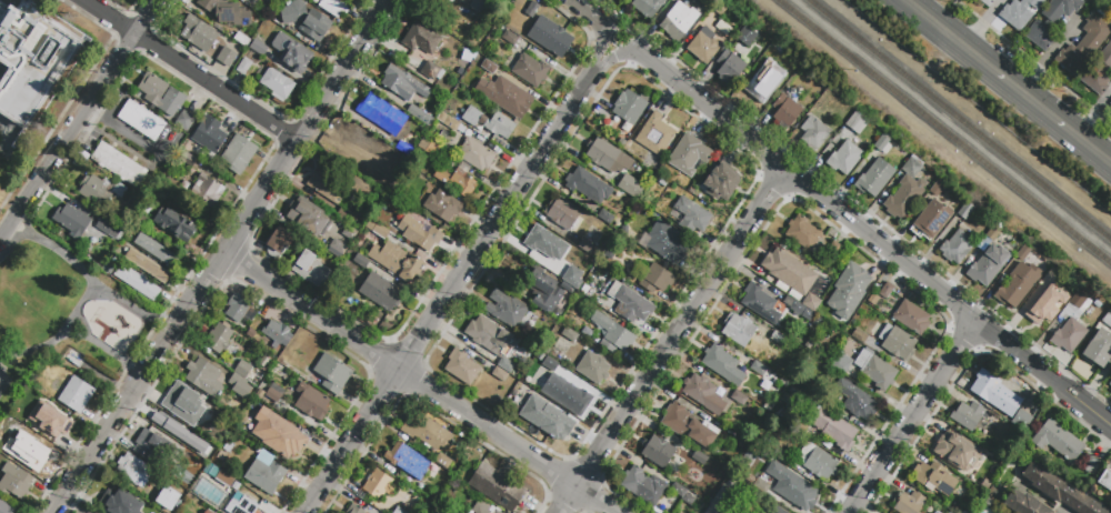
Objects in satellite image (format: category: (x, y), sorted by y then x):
building: (454, 0)
building: (438, 2)
road: (911, 2)
building: (988, 2)
building: (479, 6)
building: (648, 7)
building: (333, 8)
building: (261, 9)
building: (532, 9)
road: (589, 11)
building: (227, 12)
building: (1019, 12)
building: (306, 20)
building: (1051, 21)
building: (674, 26)
building: (723, 27)
road: (627, 30)
building: (199, 37)
building: (747, 37)
building: (510, 38)
building: (553, 38)
building: (241, 39)
building: (420, 39)
road: (602, 43)
road: (614, 43)
building: (1085, 43)
building: (703, 44)
building: (258, 49)
building: (293, 57)
road: (619, 57)
building: (228, 60)
road: (1033, 61)
building: (30, 62)
building: (730, 67)
building: (489, 68)
road: (190, 69)
building: (246, 69)
building: (432, 71)
building: (530, 71)
building: (1099, 72)
building: (237, 80)
road: (1007, 81)
building: (402, 84)
building: (279, 87)
building: (755, 89)
building: (162, 95)
building: (506, 97)
building: (1110, 103)
building: (628, 108)
road: (711, 109)
building: (784, 111)
building: (376, 112)
building: (471, 115)
road: (79, 117)
building: (423, 117)
railway: (960, 119)
building: (186, 120)
building: (141, 121)
building: (449, 122)
building: (857, 123)
building: (500, 125)
road: (121, 129)
building: (462, 129)
railway: (945, 131)
building: (468, 132)
building: (813, 133)
building: (655, 134)
building: (209, 137)
building: (361, 143)
building: (451, 144)
building: (883, 144)
building: (429, 149)
building: (494, 149)
building: (239, 154)
building: (476, 155)
building: (608, 155)
building: (689, 155)
building: (844, 157)
building: (187, 160)
building: (118, 165)
building: (911, 168)
building: (639, 172)
building: (382, 177)
building: (873, 178)
building: (458, 182)
building: (720, 182)
building: (327, 184)
building: (588, 185)
building: (630, 185)
building: (939, 189)
building: (100, 190)
building: (206, 191)
building: (901, 202)
building: (443, 205)
building: (965, 211)
building: (308, 213)
building: (562, 213)
building: (691, 214)
road: (500, 217)
building: (605, 217)
building: (346, 218)
building: (71, 220)
building: (930, 220)
building: (140, 221)
building: (176, 224)
building: (376, 229)
building: (107, 230)
building: (420, 233)
building: (802, 233)
building: (988, 237)
building: (279, 242)
building: (543, 242)
building: (665, 242)
building: (338, 247)
building: (587, 247)
building: (955, 247)
building: (156, 250)
building: (833, 250)
building: (1023, 253)
building: (610, 254)
road: (219, 255)
building: (397, 260)
building: (360, 261)
building: (988, 264)
building: (148, 265)
building: (310, 269)
building: (788, 271)
building: (571, 275)
road: (88, 278)
building: (1049, 278)
building: (658, 281)
building: (136, 282)
building: (1017, 284)
building: (584, 290)
building: (849, 290)
building: (887, 290)
building: (380, 291)
building: (543, 291)
road: (949, 296)
building: (873, 299)
building: (758, 300)
building: (810, 302)
building: (629, 303)
building: (237, 308)
building: (795, 308)
building: (506, 309)
park: (58, 312)
building: (1040, 313)
building: (250, 314)
road: (74, 315)
building: (912, 316)
building: (1107, 320)
building: (258, 322)
building: (1071, 324)
road: (680, 328)
building: (738, 330)
building: (276, 332)
building: (588, 333)
building: (569, 334)
building: (613, 334)
building: (859, 335)
building: (490, 336)
building: (218, 338)
building: (778, 340)
road: (74, 341)
building: (898, 342)
building: (1099, 349)
building: (546, 350)
building: (540, 356)
building: (559, 356)
building: (69, 360)
building: (266, 362)
building: (841, 362)
building: (722, 364)
building: (506, 365)
building: (550, 365)
building: (462, 368)
building: (593, 368)
building: (759, 369)
building: (242, 370)
road: (398, 370)
building: (877, 370)
building: (332, 372)
building: (500, 375)
building: (203, 378)
building: (543, 379)
building: (526, 381)
building: (236, 382)
park: (3, 383)
building: (1110, 384)
building: (554, 385)
building: (987, 386)
building: (702, 393)
building: (77, 395)
building: (277, 395)
building: (531, 395)
building: (572, 399)
building: (739, 399)
building: (821, 399)
building: (857, 400)
building: (182, 403)
building: (311, 403)
road: (912, 415)
building: (968, 415)
building: (274, 418)
building: (27, 419)
building: (57, 419)
building: (1021, 419)
building: (554, 426)
building: (689, 426)
building: (830, 426)
building: (802, 429)
building: (429, 432)
building: (182, 434)
building: (26, 435)
building: (1055, 435)
road: (353, 441)
building: (287, 444)
building: (151, 445)
building: (657, 451)
building: (957, 452)
building: (39, 456)
building: (700, 457)
building: (2, 460)
building: (410, 461)
building: (443, 461)
building: (818, 461)
building: (1090, 465)
building: (133, 470)
building: (1064, 471)
building: (266, 473)
building: (226, 477)
building: (933, 477)
building: (1105, 480)
building: (14, 481)
building: (378, 484)
building: (763, 484)
building: (643, 485)
building: (497, 486)
building: (1059, 490)
building: (800, 492)
building: (682, 493)
building: (431, 495)
building: (168, 499)
road: (565, 500)
road: (594, 500)
building: (721, 501)
building: (120, 502)
building: (909, 503)
building: (1023, 503)
building: (242, 506)
building: (481, 506)
building: (4, 507)
building: (354, 509)
building: (777, 510)
building: (209, 512)
building: (399, 512)
building: (653, 512)

